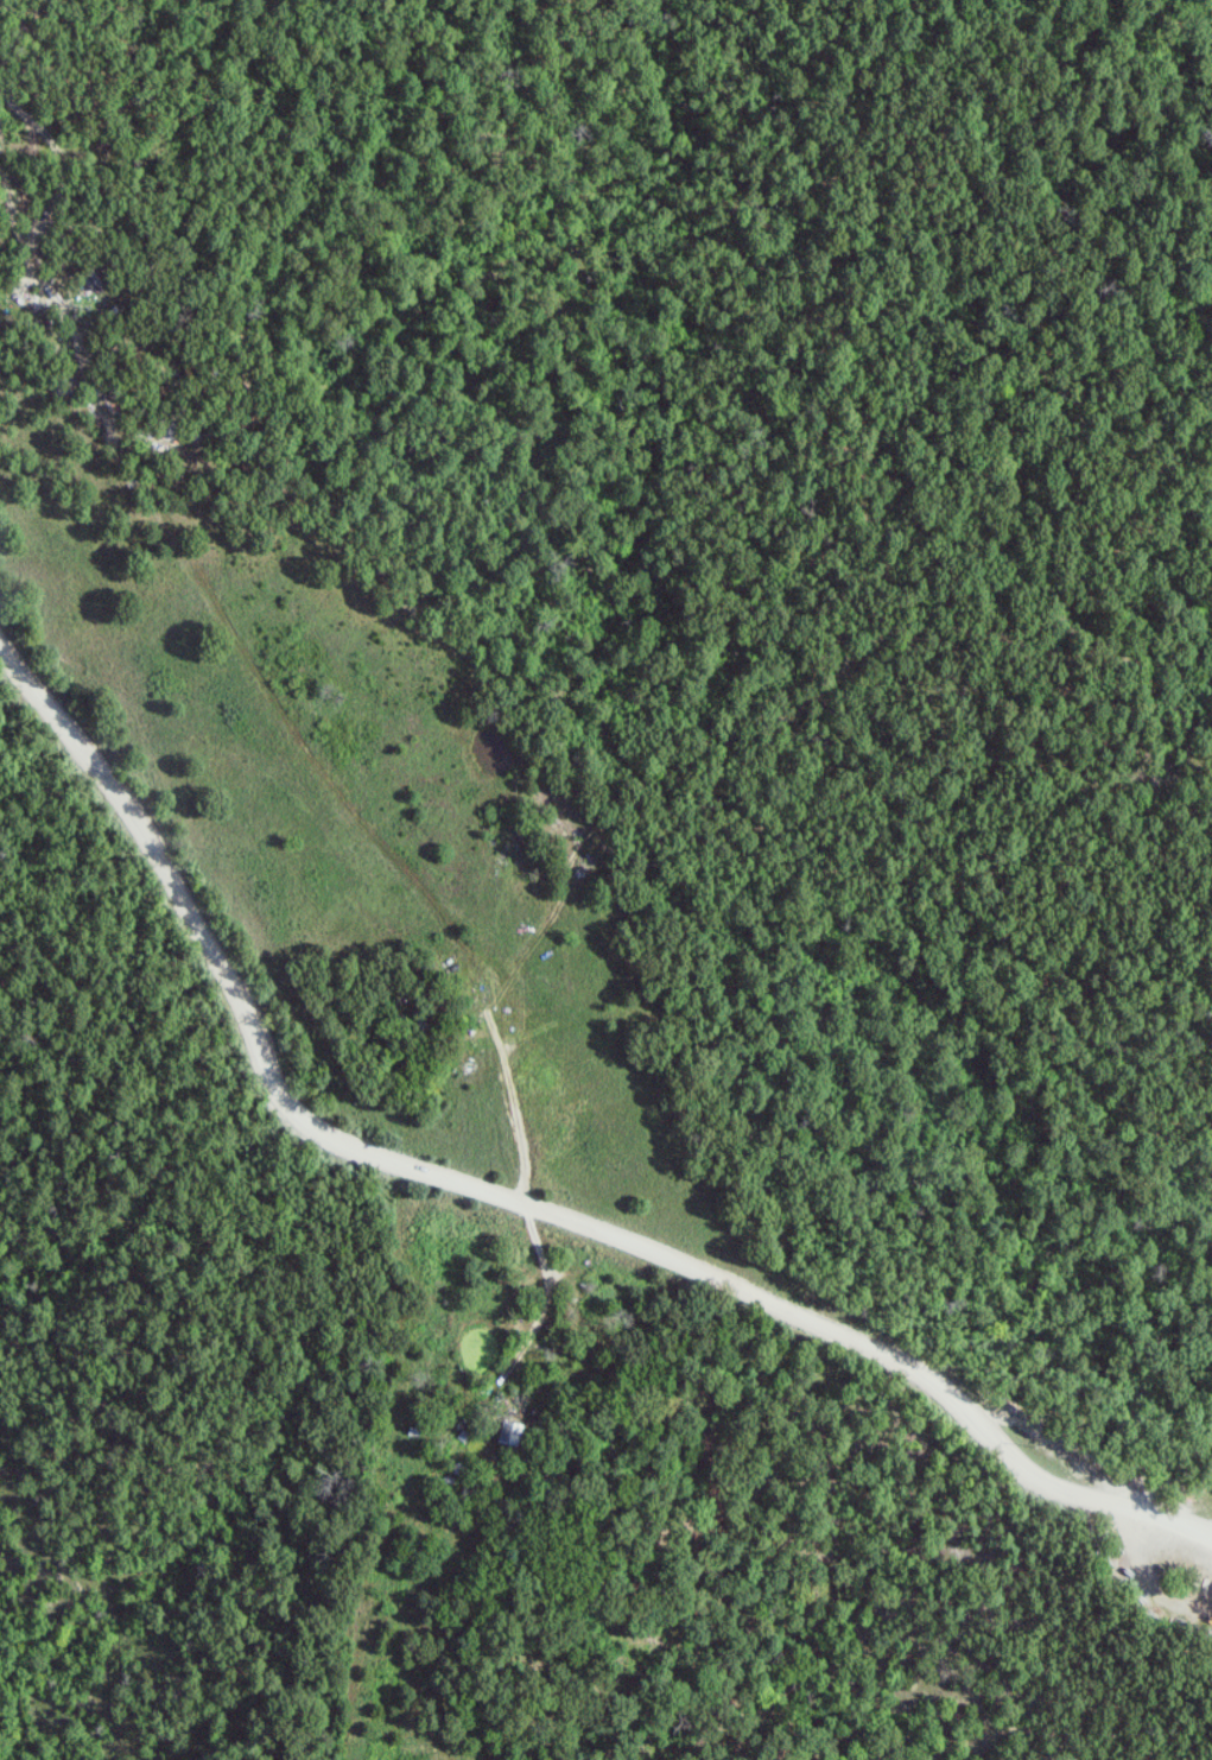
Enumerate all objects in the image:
road: (210, 603)
road: (489, 1012)
road: (508, 1197)
road: (550, 1304)

